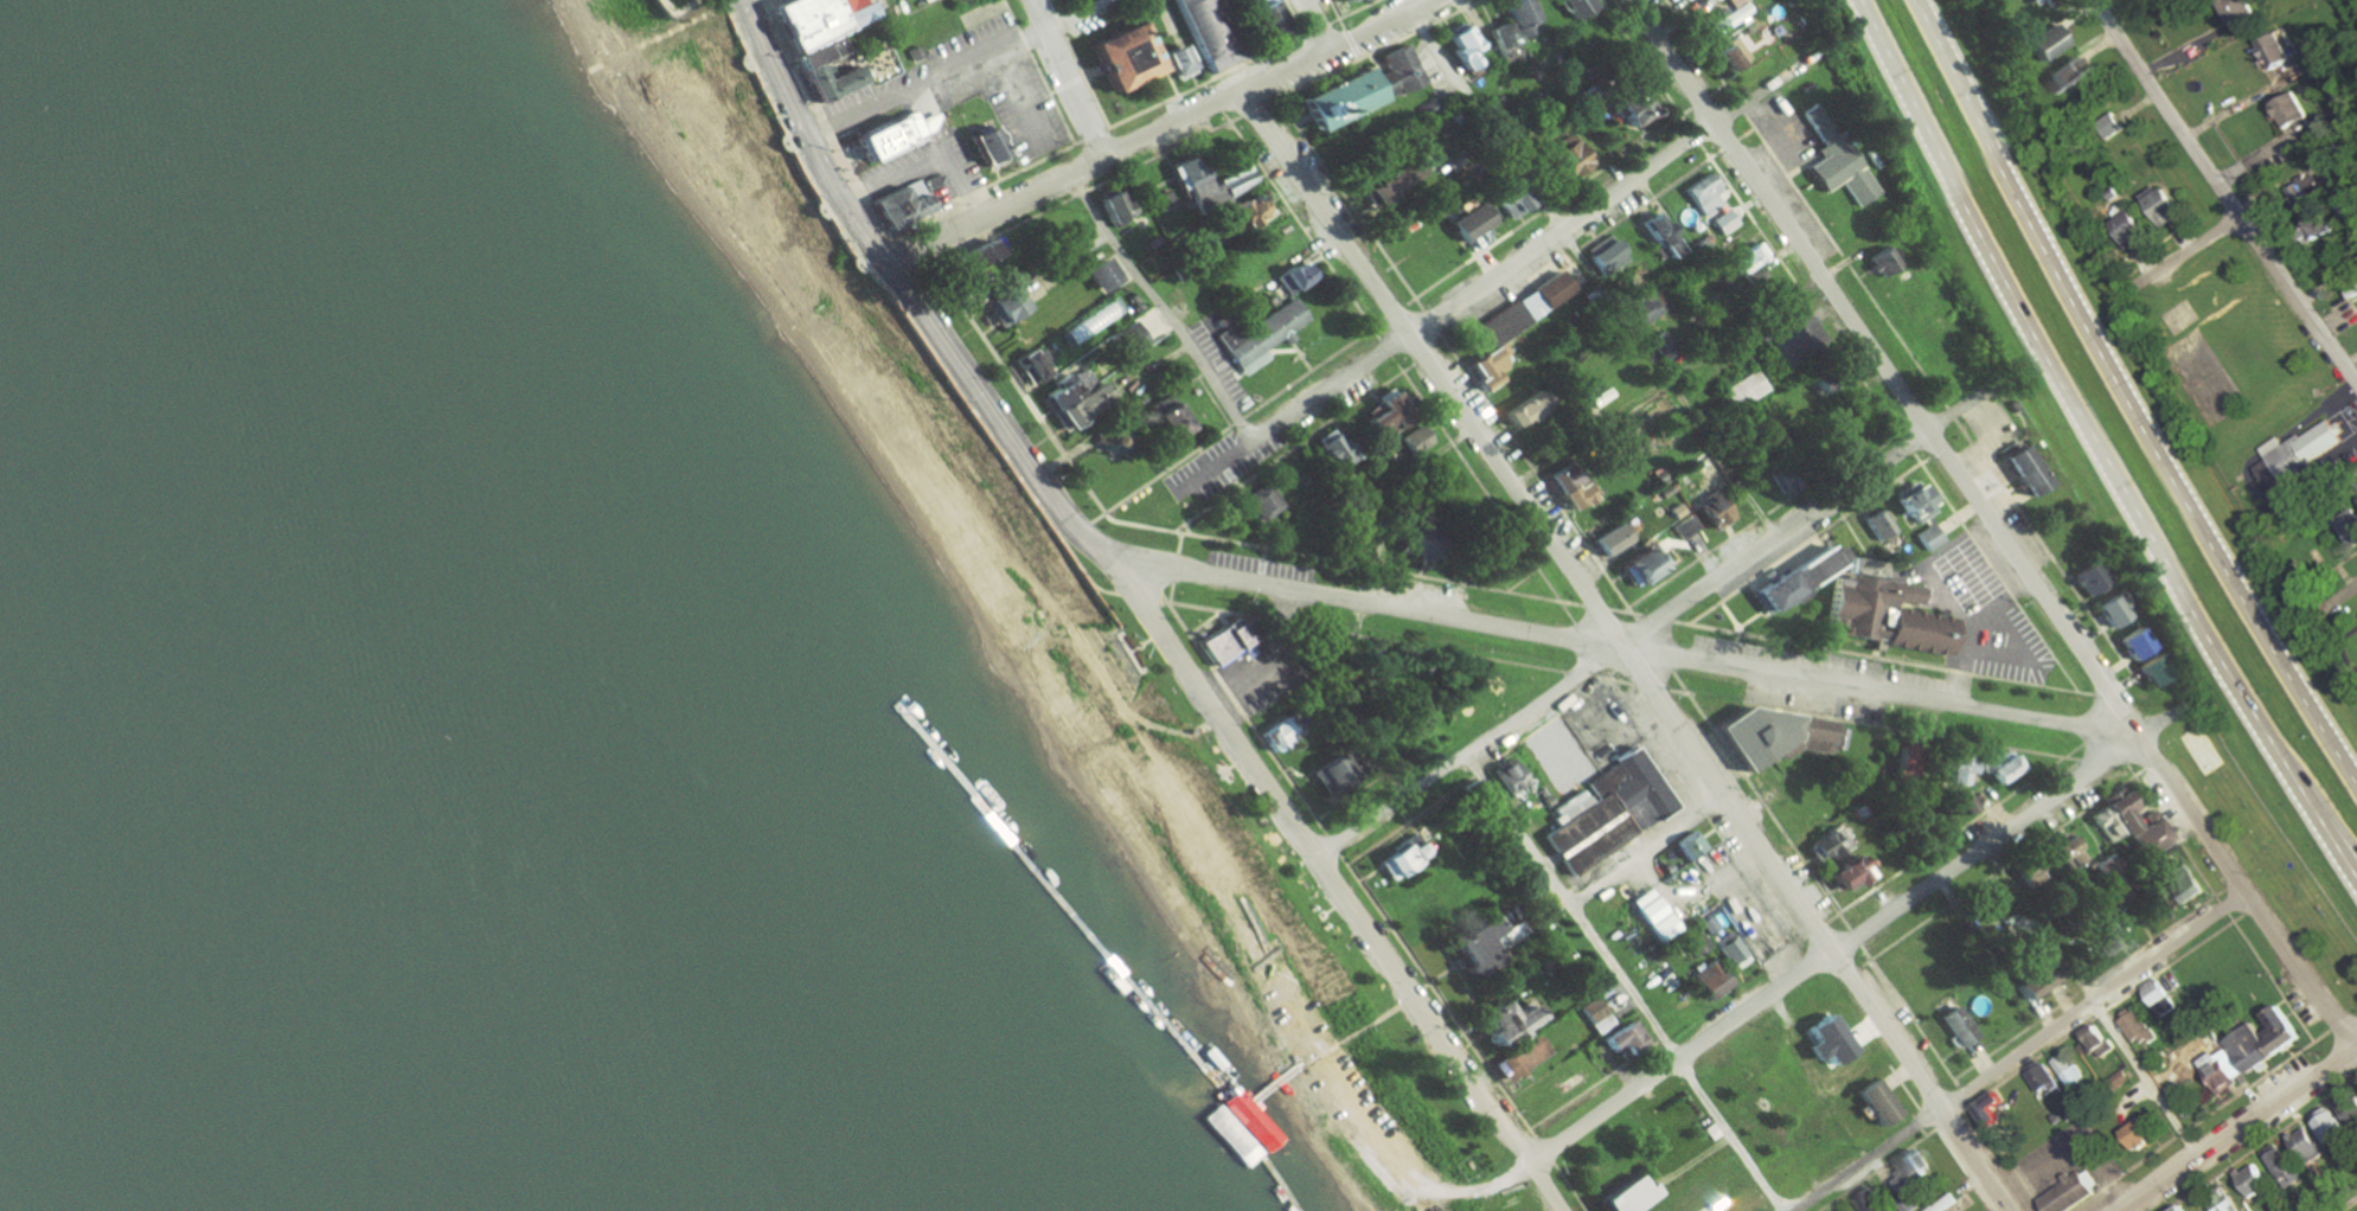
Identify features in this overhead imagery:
building: (1680, 0)
road: (766, 4)
road: (776, 4)
park: (673, 6)
building: (1571, 7)
road: (1354, 9)
road: (672, 11)
building: (2234, 11)
road: (1337, 13)
building: (1728, 17)
building: (1260, 18)
road: (1294, 18)
building: (820, 20)
road: (1318, 26)
road: (1319, 27)
building: (1509, 30)
building: (1206, 31)
road: (654, 40)
road: (1351, 43)
building: (2041, 43)
building: (1459, 47)
road: (1699, 49)
building: (2267, 50)
road: (1376, 51)
building: (820, 52)
building: (1728, 55)
building: (1126, 59)
building: (1171, 60)
road: (1641, 62)
road: (1077, 63)
road: (955, 64)
parking lot: (1439, 65)
road: (1164, 69)
road: (1038, 71)
road: (1093, 72)
building: (2063, 76)
road: (1067, 79)
building: (830, 82)
road: (1204, 82)
parking lot: (884, 92)
building: (1359, 92)
road: (1012, 97)
building: (1626, 105)
road: (1740, 105)
road: (1254, 109)
building: (2286, 110)
parking lot: (1026, 117)
road: (820, 123)
building: (2109, 123)
road: (1165, 132)
road: (1746, 132)
road: (1691, 133)
road: (1093, 135)
road: (806, 136)
building: (884, 137)
road: (1728, 143)
building: (978, 145)
building: (1564, 156)
building: (1834, 160)
building: (1410, 169)
building: (1183, 175)
road: (982, 186)
building: (1379, 186)
road: (1085, 191)
road: (2223, 192)
building: (1702, 193)
building: (1506, 199)
building: (1160, 201)
road: (1350, 203)
building: (899, 204)
building: (1107, 206)
road: (1544, 206)
building: (2158, 207)
building: (1245, 211)
building: (1466, 223)
building: (1722, 223)
road: (1300, 225)
building: (2316, 228)
building: (2125, 231)
building: (1655, 237)
road: (1538, 245)
road: (905, 246)
road: (1578, 249)
building: (1600, 252)
road: (2186, 254)
building: (965, 257)
building: (1744, 258)
building: (1878, 261)
building: (1096, 275)
building: (1290, 276)
road: (1593, 276)
road: (1799, 288)
building: (997, 305)
road: (901, 309)
road: (1163, 309)
road: (1394, 312)
building: (1522, 312)
building: (1641, 312)
park: (2184, 319)
road: (1430, 321)
building: (1258, 337)
building: (1785, 338)
building: (1126, 340)
building: (1658, 344)
road: (1386, 347)
building: (1055, 348)
road: (1300, 355)
road: (1424, 355)
building: (1482, 369)
road: (1664, 383)
road: (1016, 385)
building: (1740, 390)
road: (2125, 393)
building: (1071, 398)
road: (1934, 403)
road: (1216, 405)
road: (2080, 414)
building: (1382, 415)
building: (1167, 422)
road: (1229, 425)
building: (1108, 440)
building: (1410, 441)
road: (1907, 444)
road: (1293, 448)
building: (1332, 451)
building: (2299, 456)
road: (1215, 468)
building: (2028, 474)
road: (1537, 476)
road: (1475, 480)
building: (1568, 488)
flagpole: (2012, 491)
building: (1665, 494)
road: (1390, 495)
building: (1262, 502)
building: (1909, 504)
building: (1711, 512)
road: (1766, 517)
road: (1985, 523)
building: (1875, 525)
building: (2348, 527)
road: (1186, 528)
building: (1924, 538)
building: (1403, 539)
building: (1603, 540)
road: (1808, 540)
road: (1178, 543)
road: (1261, 553)
road: (1340, 560)
parking lot: (1261, 565)
road: (1172, 568)
building: (1637, 568)
road: (1994, 572)
building: (1789, 575)
building: (2087, 578)
road: (1523, 579)
road: (1134, 592)
road: (1168, 592)
road: (2337, 597)
road: (1159, 602)
road: (1596, 604)
parking lot: (1979, 609)
road: (1626, 610)
road: (1568, 611)
building: (2107, 611)
building: (1881, 615)
road: (1730, 616)
road: (1219, 617)
road: (1657, 617)
road: (1748, 617)
road: (1203, 621)
road: (1655, 621)
road: (1365, 635)
road: (1736, 636)
park: (1058, 640)
building: (1226, 641)
road: (1832, 642)
building: (2132, 643)
road: (1654, 646)
road: (1622, 647)
road: (1580, 649)
road: (2349, 653)
road: (1628, 654)
road: (1890, 658)
road: (1270, 661)
road: (1637, 661)
parking lot: (1831, 664)
building: (2150, 669)
road: (1578, 671)
parking lot: (1261, 673)
road: (1610, 677)
river: (303, 683)
road: (1680, 683)
road: (1648, 685)
road: (1678, 691)
parking lot: (1858, 710)
road: (1245, 717)
road: (1883, 725)
road: (1171, 730)
road: (1226, 733)
building: (1272, 736)
building: (1768, 738)
park: (2201, 751)
building: (1900, 763)
road: (1480, 765)
road: (2148, 765)
building: (1997, 767)
building: (1951, 768)
road: (2088, 768)
road: (2112, 769)
building: (1324, 775)
building: (1500, 778)
road: (1701, 809)
road: (1768, 809)
building: (1608, 813)
building: (2112, 818)
road: (1961, 826)
road: (2173, 832)
building: (2148, 837)
building: (1826, 844)
road: (1334, 845)
building: (1685, 846)
road: (2338, 846)
road: (1648, 850)
building: (2064, 852)
building: (1397, 860)
road: (2001, 866)
building: (2101, 870)
building: (1843, 873)
building: (2026, 874)
building: (2184, 884)
road: (2233, 886)
road: (2225, 906)
road: (2250, 911)
building: (1708, 925)
road: (1815, 929)
road: (1856, 933)
road: (1855, 937)
building: (2107, 938)
building: (1695, 944)
building: (1468, 948)
road: (1782, 952)
building: (1731, 953)
road: (2177, 961)
pier: (1090, 972)
road: (2272, 976)
building: (1709, 980)
building: (2023, 981)
road: (1622, 982)
road: (2088, 982)
road: (1439, 995)
road: (2093, 999)
building: (2157, 999)
road: (1908, 1015)
building: (1594, 1018)
building: (1504, 1023)
building: (1953, 1026)
building: (2133, 1026)
road: (2334, 1027)
road: (1359, 1036)
building: (1620, 1039)
building: (2260, 1039)
building: (1823, 1042)
building: (2097, 1042)
road: (2018, 1051)
road: (2033, 1059)
building: (1517, 1061)
building: (2218, 1068)
pier: (1189, 1070)
building: (2067, 1071)
building: (2039, 1078)
building: (2119, 1079)
road: (2259, 1079)
road: (1596, 1084)
road: (1903, 1087)
road: (1962, 1093)
building: (1871, 1103)
building: (2346, 1107)
building: (1985, 1109)
road: (1927, 1116)
building: (1257, 1119)
road: (1947, 1120)
building: (2326, 1124)
road: (2240, 1129)
building: (2133, 1134)
road: (2262, 1143)
building: (2305, 1145)
building: (1236, 1148)
road: (1543, 1148)
road: (2006, 1156)
parking lot: (2070, 1160)
building: (2280, 1165)
building: (1908, 1167)
road: (1876, 1168)
road: (2129, 1170)
building: (2250, 1180)
pier: (1232, 1186)
road: (1570, 1186)
building: (2065, 1193)
building: (1620, 1194)
building: (1866, 1199)
building: (2222, 1202)
road: (2349, 1205)
building: (2176, 1209)
building: (2353, 1210)

